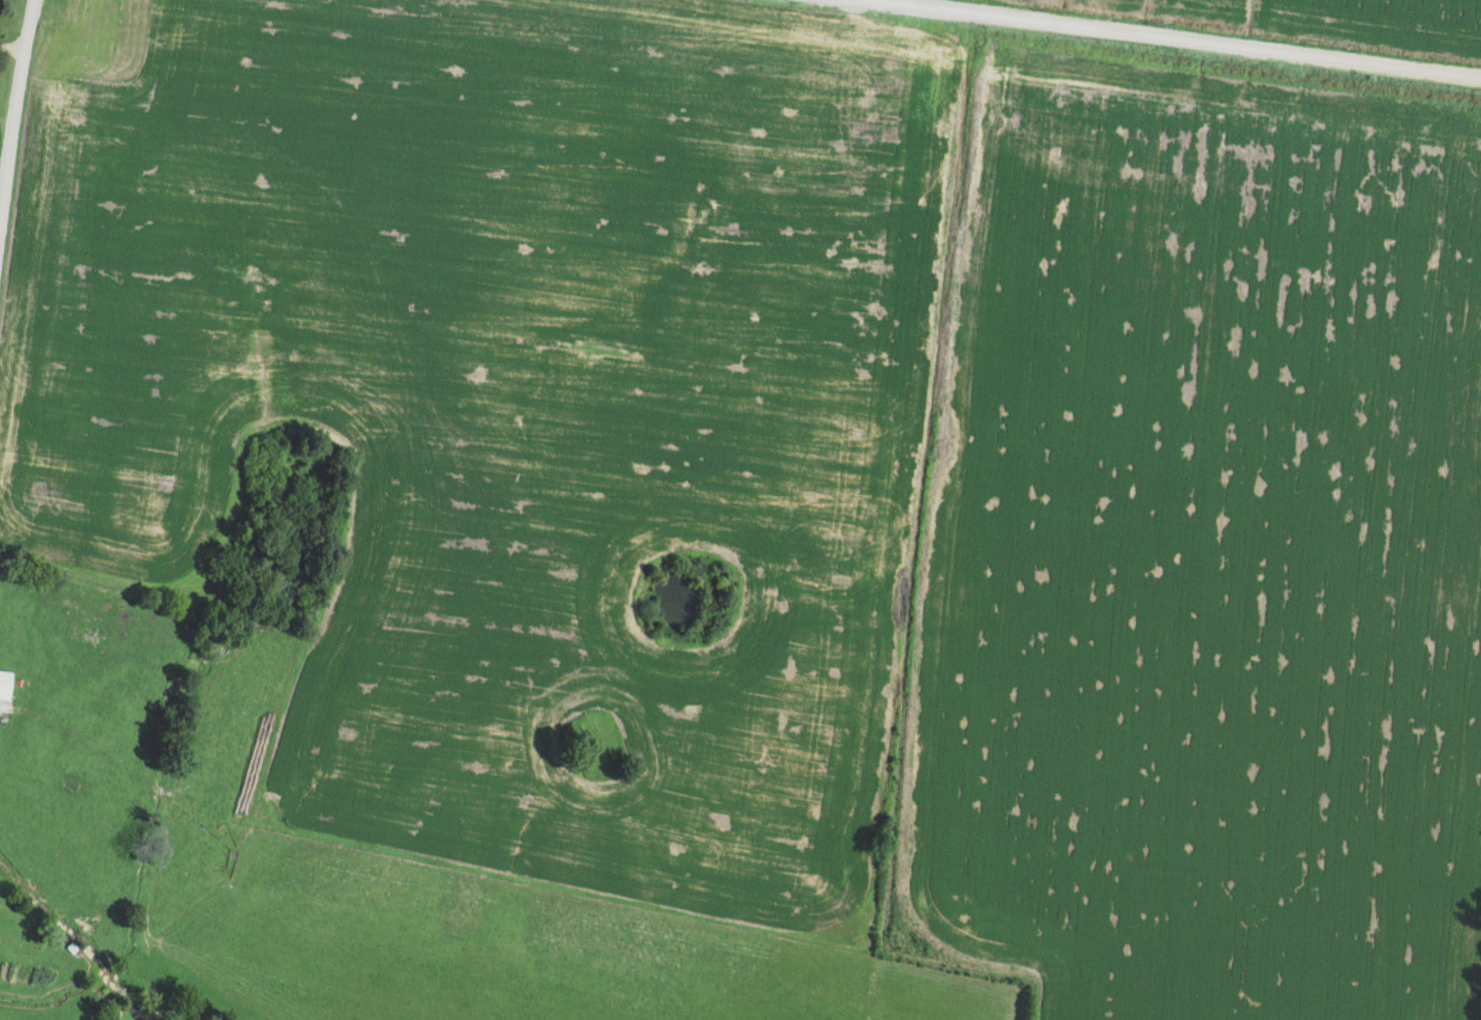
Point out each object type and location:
road: (1039, 62)
road: (12, 89)
park: (600, 744)

